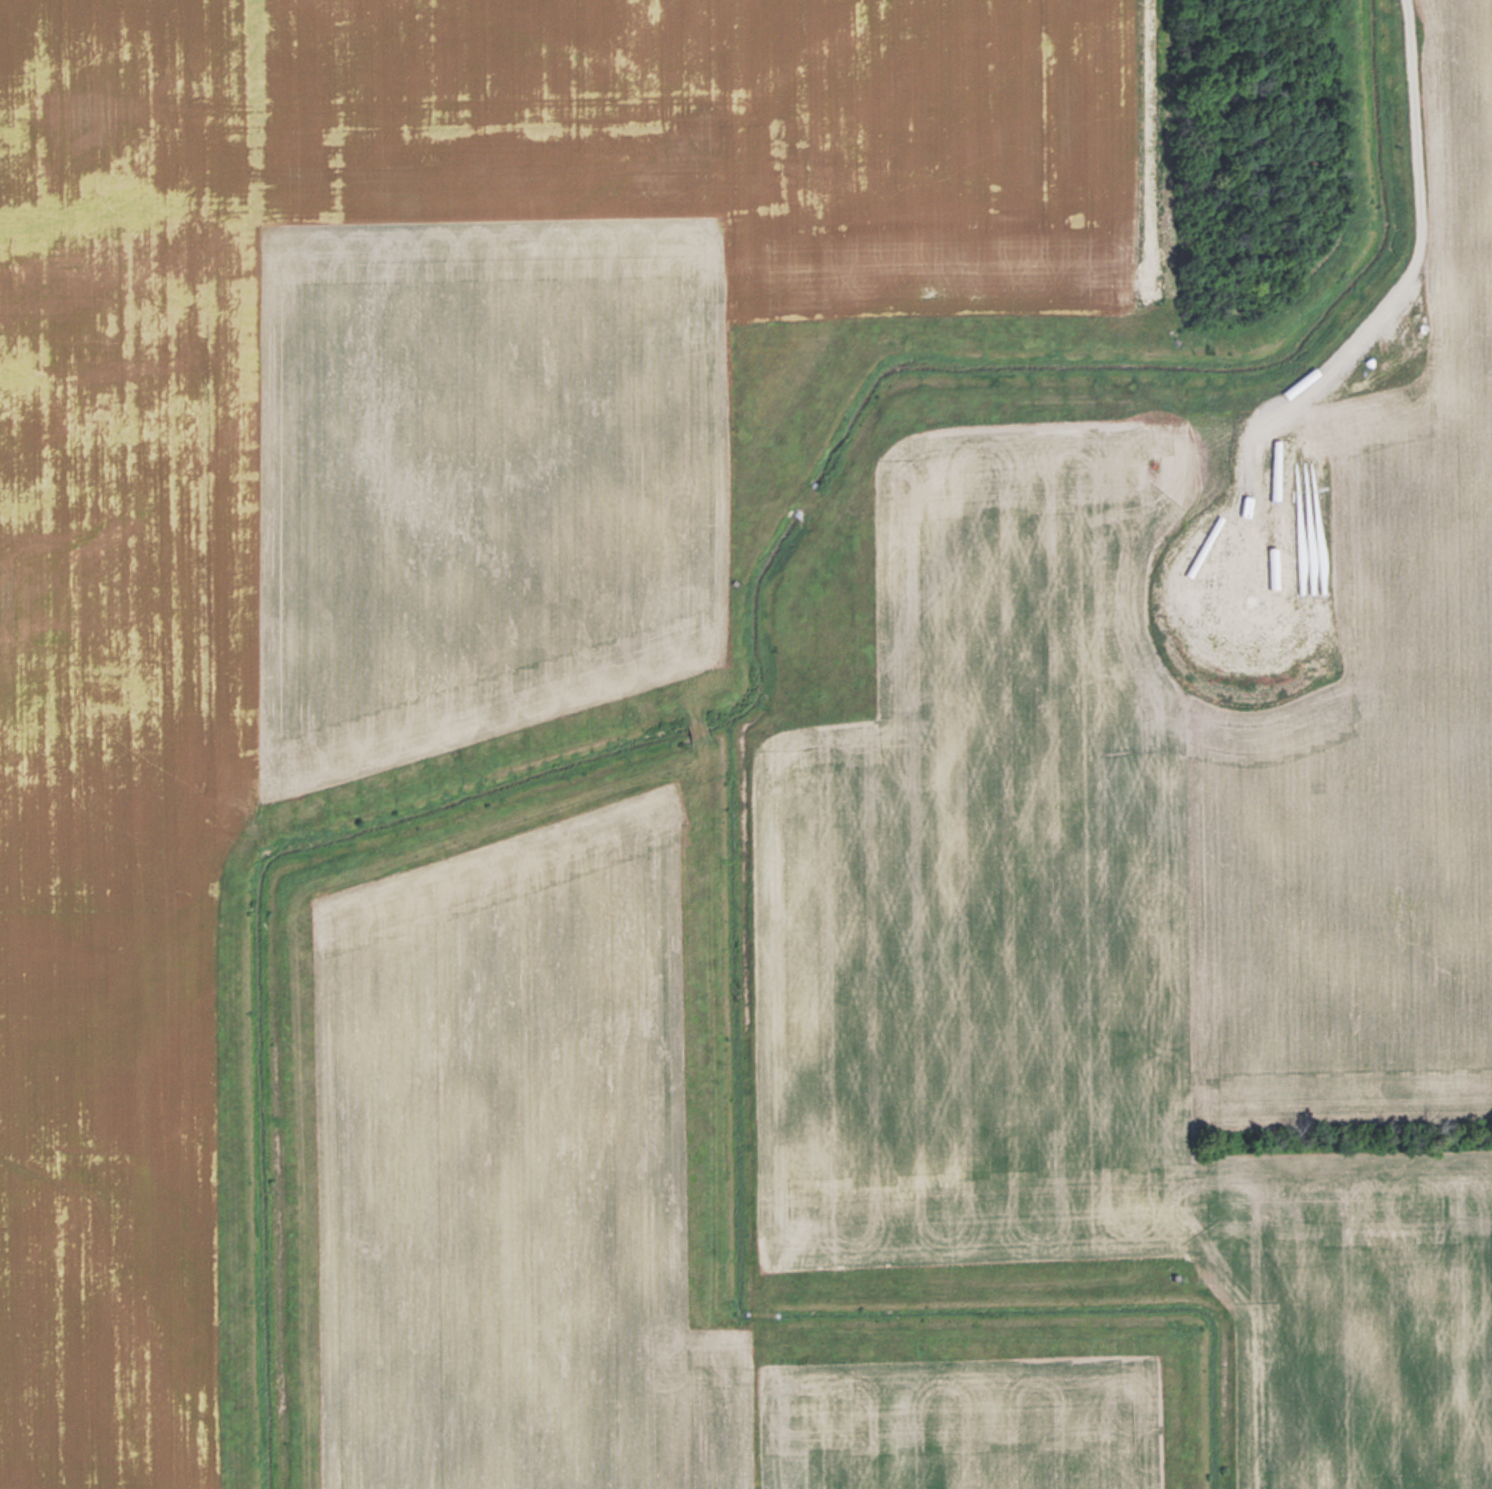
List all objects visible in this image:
wind turbine: (1246, 577)

